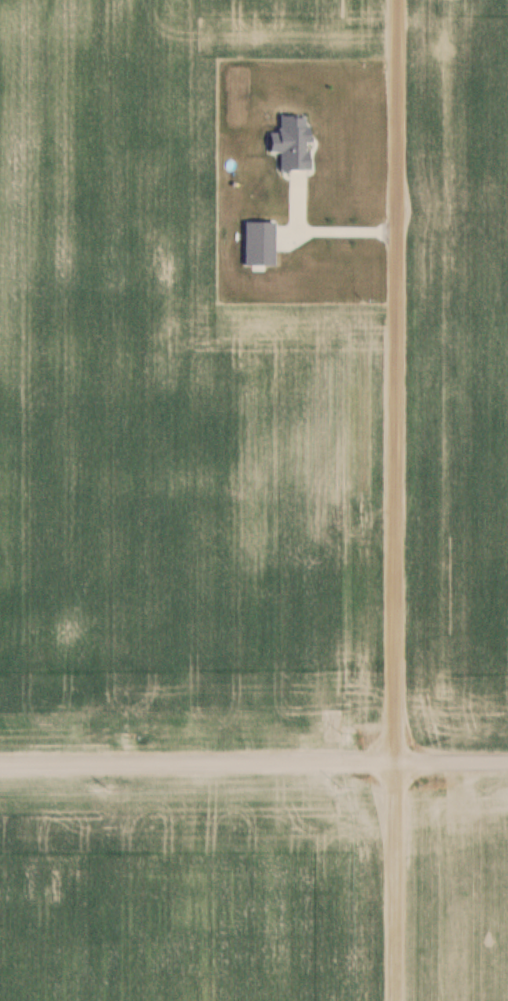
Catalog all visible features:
road: (316, 218)
road: (394, 500)
road: (254, 766)

